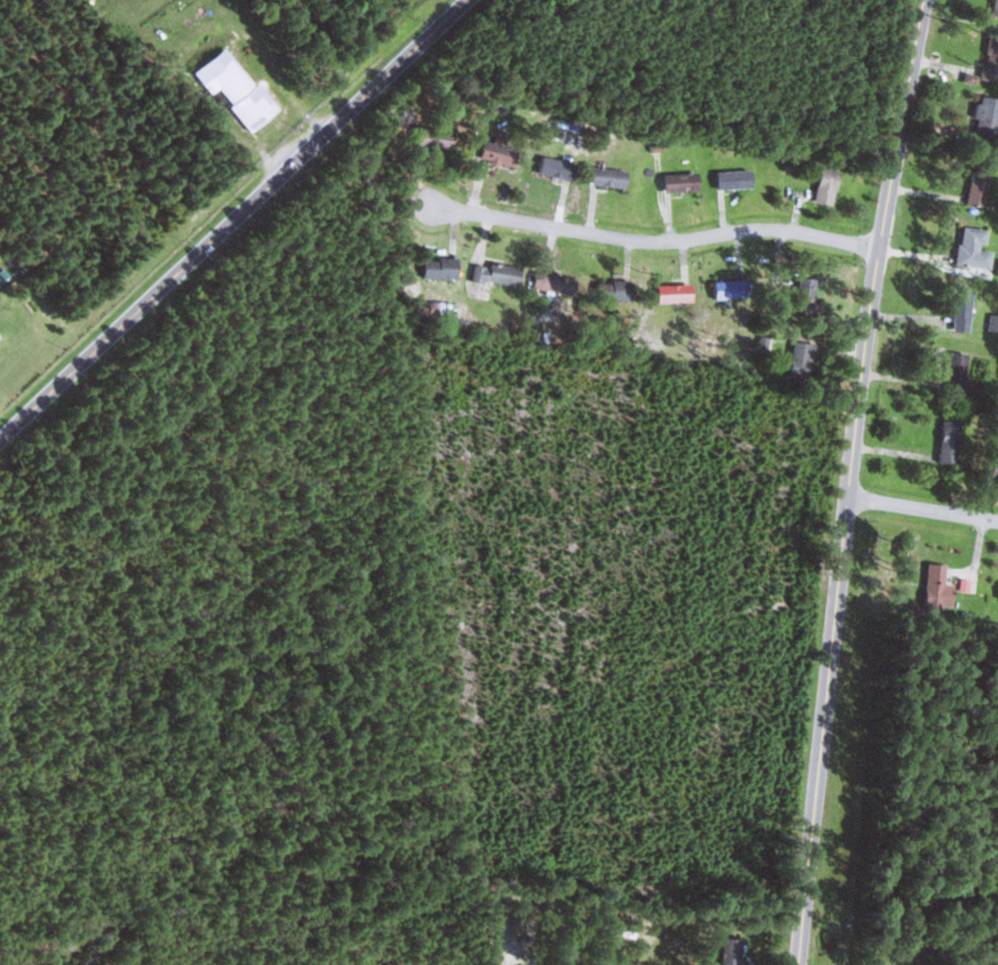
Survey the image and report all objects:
road: (453, 5)
building: (996, 9)
building: (238, 88)
building: (989, 120)
building: (437, 139)
building: (501, 155)
building: (559, 169)
building: (611, 178)
building: (736, 180)
building: (682, 183)
building: (829, 186)
building: (980, 187)
road: (234, 219)
road: (649, 241)
building: (975, 248)
building: (443, 268)
building: (498, 274)
building: (556, 283)
building: (729, 289)
building: (616, 290)
building: (676, 292)
building: (809, 295)
road: (872, 300)
building: (964, 312)
building: (994, 322)
building: (4, 336)
building: (804, 359)
building: (959, 370)
building: (952, 441)
building: (995, 470)
road: (923, 509)
building: (939, 587)
road: (817, 784)
building: (733, 951)

